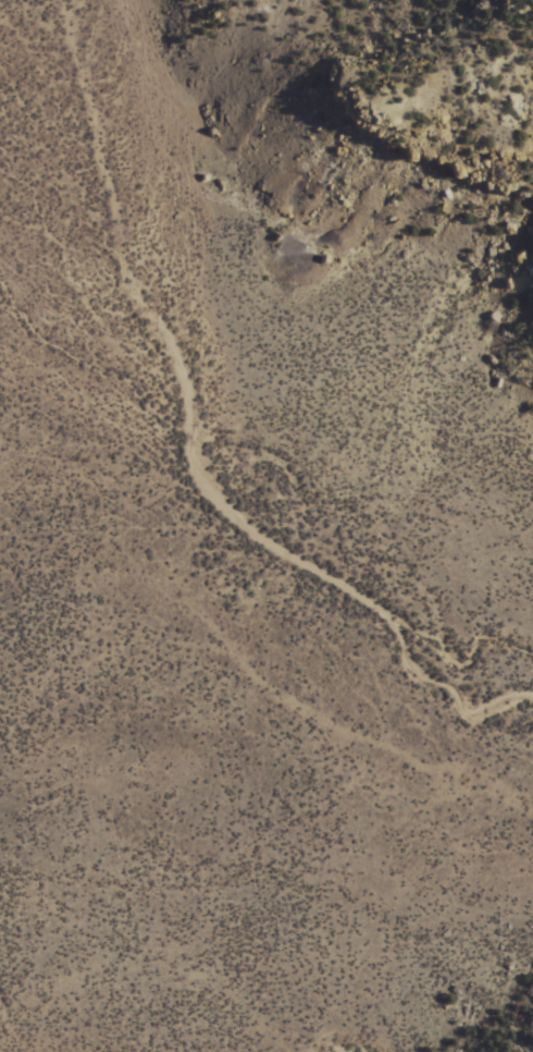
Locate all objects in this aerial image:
road: (72, 937)

